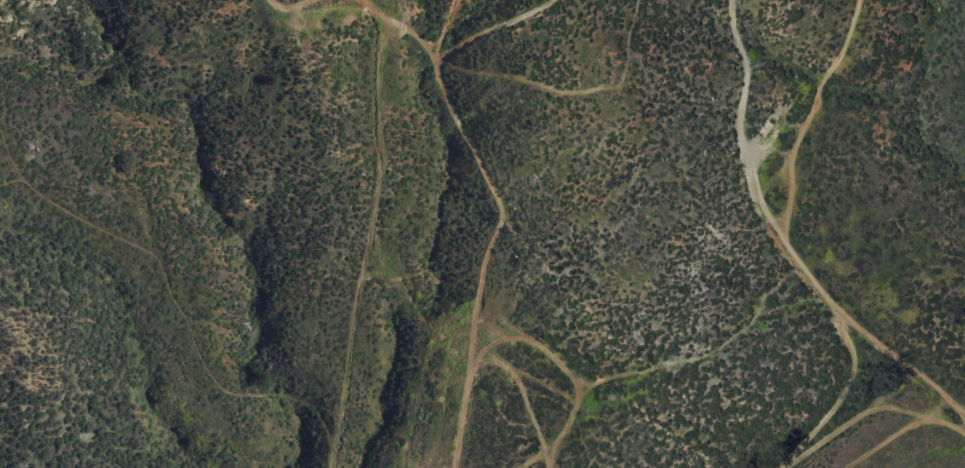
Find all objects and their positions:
road: (804, 109)
road: (790, 245)

